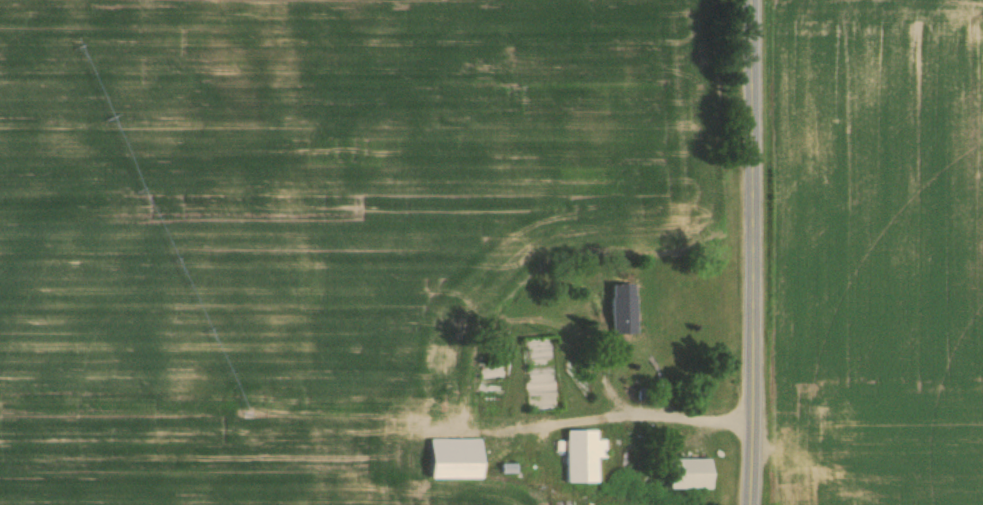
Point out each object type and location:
road: (763, 252)
building: (619, 308)
road: (689, 397)
building: (822, 421)
building: (580, 455)
building: (450, 458)
building: (685, 473)

